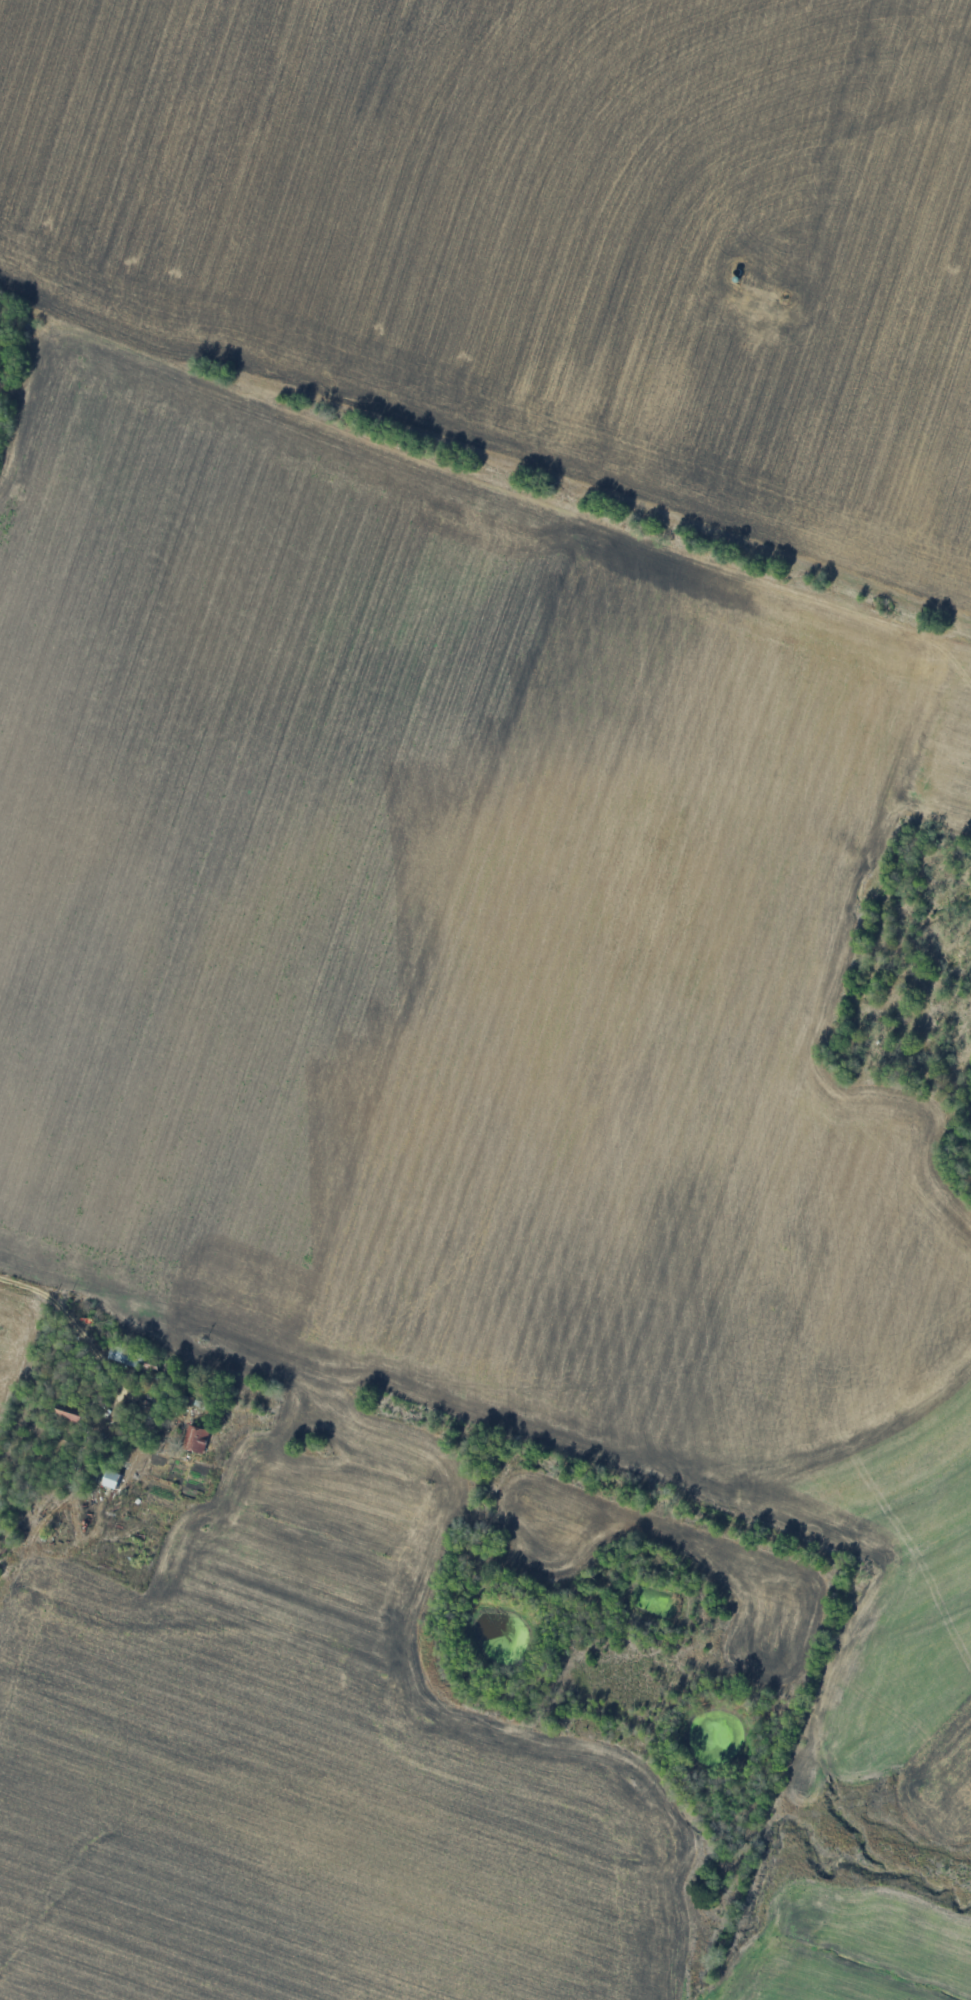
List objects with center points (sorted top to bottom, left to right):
road: (64, 1314)
building: (195, 1439)
building: (111, 1480)

